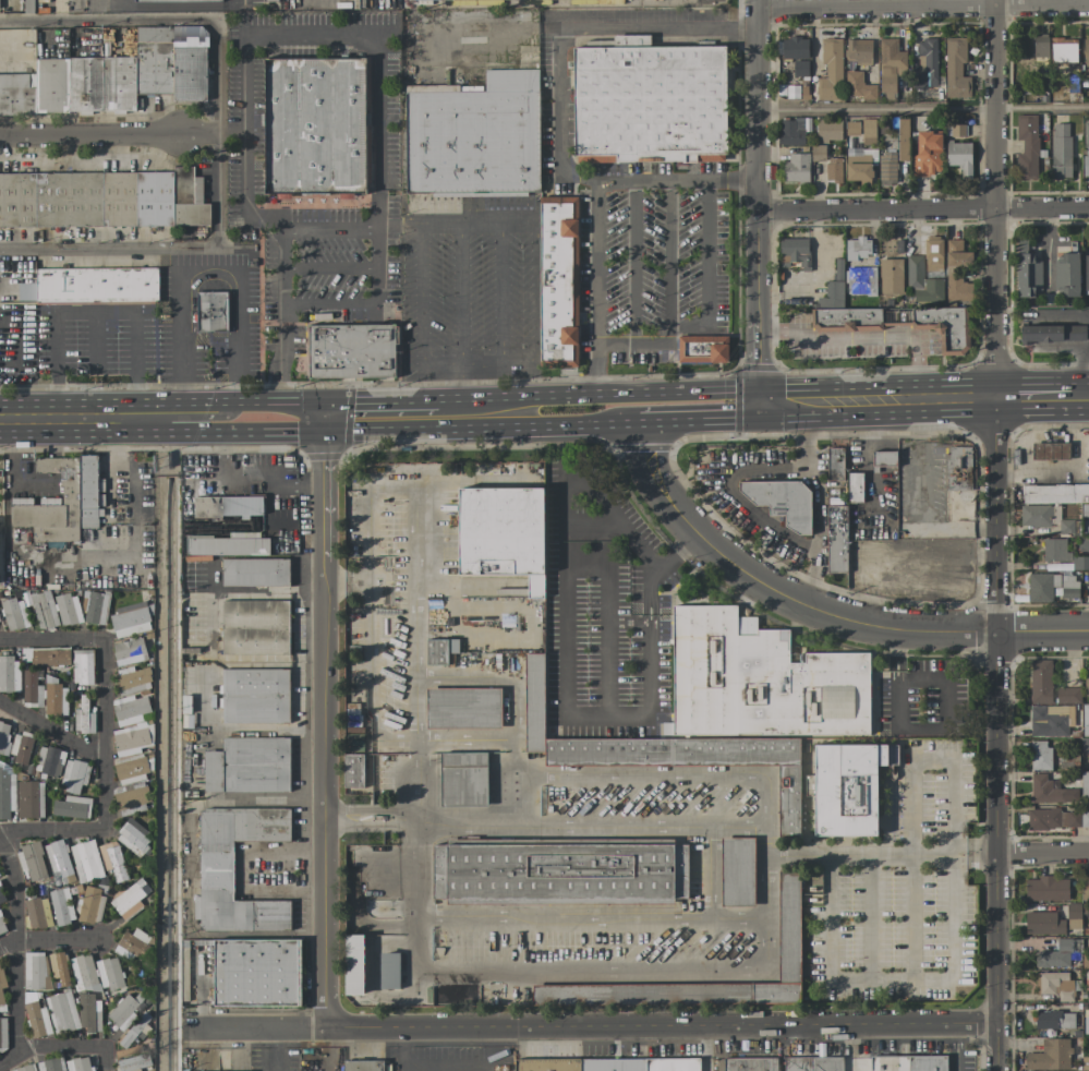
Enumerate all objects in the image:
building: (469, 0)
building: (178, 1)
building: (270, 1)
building: (0, 4)
building: (28, 7)
road: (922, 7)
road: (107, 11)
road: (105, 22)
road: (255, 33)
road: (573, 33)
building: (1041, 46)
building: (797, 48)
building: (1065, 50)
building: (1087, 58)
building: (930, 59)
building: (892, 67)
building: (800, 69)
building: (859, 69)
building: (957, 69)
building: (832, 72)
building: (107, 79)
building: (806, 89)
building: (789, 92)
building: (648, 101)
road: (922, 108)
building: (314, 127)
building: (852, 129)
building: (831, 130)
building: (796, 131)
building: (955, 131)
building: (870, 132)
road: (197, 133)
road: (230, 133)
road: (88, 134)
road: (218, 134)
building: (473, 136)
building: (900, 141)
building: (1087, 146)
building: (1028, 147)
building: (1062, 152)
building: (818, 153)
building: (930, 155)
building: (961, 158)
building: (861, 166)
building: (799, 167)
building: (890, 168)
building: (835, 170)
road: (994, 197)
building: (102, 200)
road: (758, 202)
road: (596, 206)
road: (922, 208)
road: (476, 221)
road: (1049, 244)
building: (859, 249)
road: (203, 250)
road: (669, 252)
building: (795, 252)
building: (935, 254)
road: (633, 262)
building: (838, 269)
building: (1029, 270)
building: (958, 273)
building: (1069, 275)
building: (1087, 276)
building: (893, 277)
building: (558, 280)
building: (863, 281)
building: (923, 282)
building: (96, 286)
road: (500, 293)
road: (535, 293)
road: (420, 294)
road: (459, 294)
building: (834, 296)
road: (367, 304)
building: (210, 312)
road: (93, 313)
road: (711, 318)
building: (905, 323)
building: (1055, 334)
road: (864, 337)
building: (350, 349)
building: (702, 349)
road: (184, 351)
road: (497, 365)
road: (440, 366)
road: (460, 383)
road: (613, 393)
road: (1076, 394)
road: (1028, 395)
road: (916, 397)
road: (391, 399)
road: (252, 401)
road: (303, 401)
traffic signals: (323, 401)
road: (825, 401)
road: (787, 404)
traffic signals: (762, 405)
road: (323, 419)
road: (87, 421)
road: (202, 421)
road: (705, 421)
road: (484, 430)
road: (273, 435)
traffic signals: (323, 436)
building: (1054, 452)
building: (883, 461)
road: (916, 462)
building: (834, 464)
building: (958, 469)
building: (855, 486)
road: (734, 493)
building: (1056, 493)
building: (62, 501)
building: (782, 501)
building: (227, 506)
building: (1086, 510)
building: (1046, 517)
road: (597, 520)
road: (956, 527)
building: (1086, 527)
building: (501, 534)
building: (836, 539)
building: (228, 544)
building: (1084, 544)
building: (1056, 550)
building: (1082, 563)
building: (255, 573)
road: (811, 577)
building: (1043, 587)
building: (1070, 587)
building: (94, 606)
building: (68, 609)
road: (818, 609)
building: (44, 610)
building: (13, 614)
road: (607, 618)
building: (130, 619)
road: (628, 622)
building: (255, 627)
road: (648, 638)
road: (52, 639)
building: (129, 651)
building: (440, 651)
building: (46, 655)
road: (564, 655)
building: (83, 665)
building: (9, 674)
road: (451, 679)
building: (759, 679)
building: (132, 681)
building: (1087, 681)
building: (1040, 682)
building: (32, 688)
building: (1068, 695)
building: (255, 696)
building: (55, 697)
road: (105, 698)
building: (534, 702)
building: (463, 708)
building: (129, 709)
building: (84, 717)
building: (1085, 719)
building: (1050, 720)
road: (52, 727)
road: (323, 732)
road: (995, 733)
building: (4, 738)
building: (132, 738)
building: (1085, 745)
building: (22, 747)
building: (1040, 755)
building: (692, 760)
building: (49, 761)
building: (247, 766)
building: (132, 769)
building: (353, 770)
building: (74, 775)
road: (668, 778)
building: (463, 780)
building: (1082, 786)
building: (847, 787)
building: (7, 790)
building: (1045, 790)
building: (28, 796)
building: (132, 798)
road: (531, 805)
building: (72, 807)
building: (1055, 818)
road: (591, 826)
road: (88, 832)
building: (134, 838)
road: (1042, 851)
road: (880, 853)
building: (32, 861)
building: (86, 861)
building: (112, 861)
building: (59, 862)
road: (418, 866)
building: (216, 868)
road: (243, 870)
building: (737, 871)
road: (710, 873)
building: (559, 874)
building: (1085, 888)
building: (1048, 889)
building: (2, 894)
building: (129, 898)
building: (89, 905)
building: (61, 906)
building: (37, 913)
road: (591, 917)
building: (1, 924)
building: (1044, 924)
road: (366, 928)
building: (1088, 928)
road: (48, 939)
building: (132, 946)
road: (14, 947)
building: (785, 947)
building: (1055, 955)
building: (353, 964)
building: (59, 967)
building: (35, 971)
building: (389, 971)
road: (658, 971)
building: (256, 972)
building: (109, 973)
building: (84, 974)
building: (1, 985)
building: (1057, 985)
building: (724, 992)
building: (124, 1011)
building: (61, 1012)
building: (88, 1012)
building: (37, 1019)
building: (1055, 1020)
building: (1086, 1024)
road: (588, 1026)
building: (135, 1031)
building: (2, 1034)
road: (957, 1047)
road: (50, 1048)
building: (1052, 1056)
road: (106, 1059)
building: (133, 1063)
building: (750, 1063)
building: (812, 1063)
building: (908, 1063)
building: (1086, 1063)
building: (51, 1064)
building: (77, 1064)
building: (607, 1064)
building: (362, 1066)
building: (24, 1068)
road: (449, 1068)

